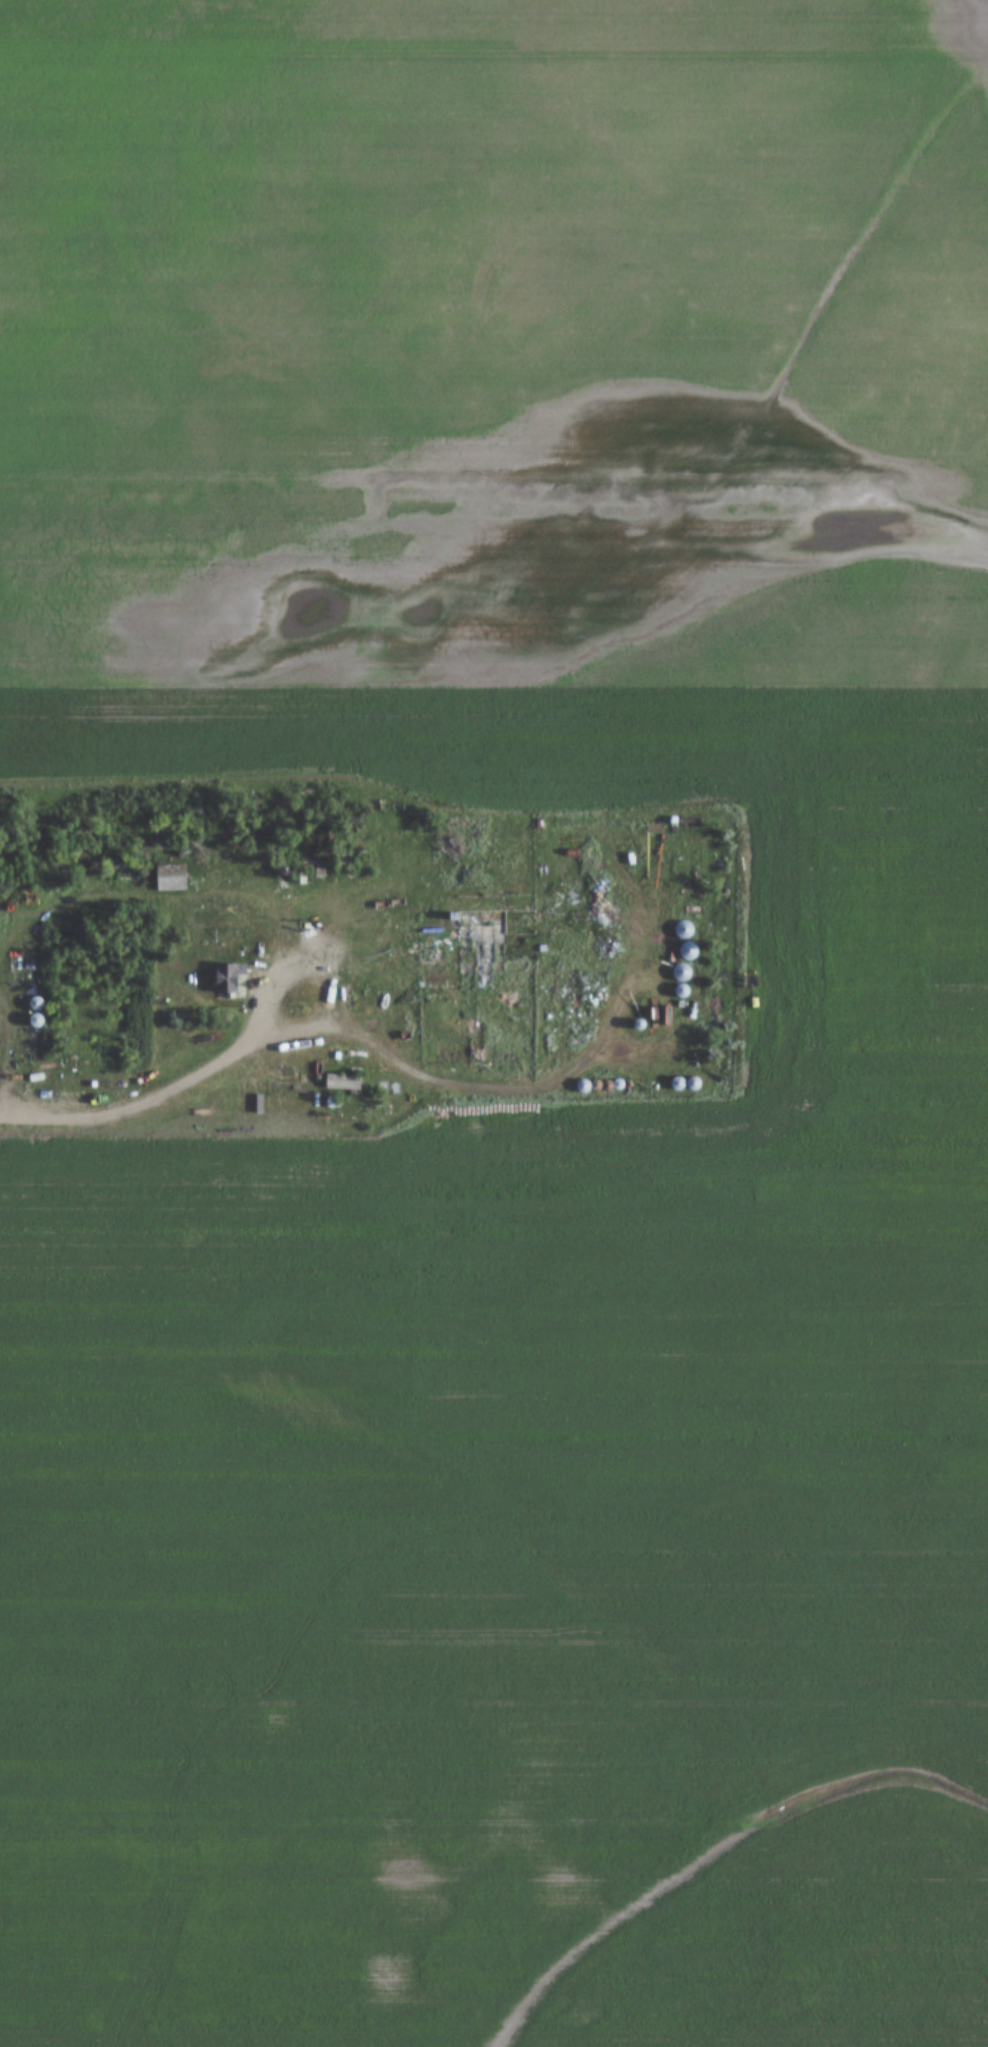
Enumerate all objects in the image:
building: (262, 863)
building: (299, 875)
building: (171, 876)
building: (684, 929)
building: (689, 949)
building: (440, 963)
road: (333, 970)
building: (682, 973)
building: (231, 978)
building: (36, 1003)
building: (37, 1020)
building: (165, 1021)
building: (343, 1081)
building: (277, 1082)
road: (124, 1112)

